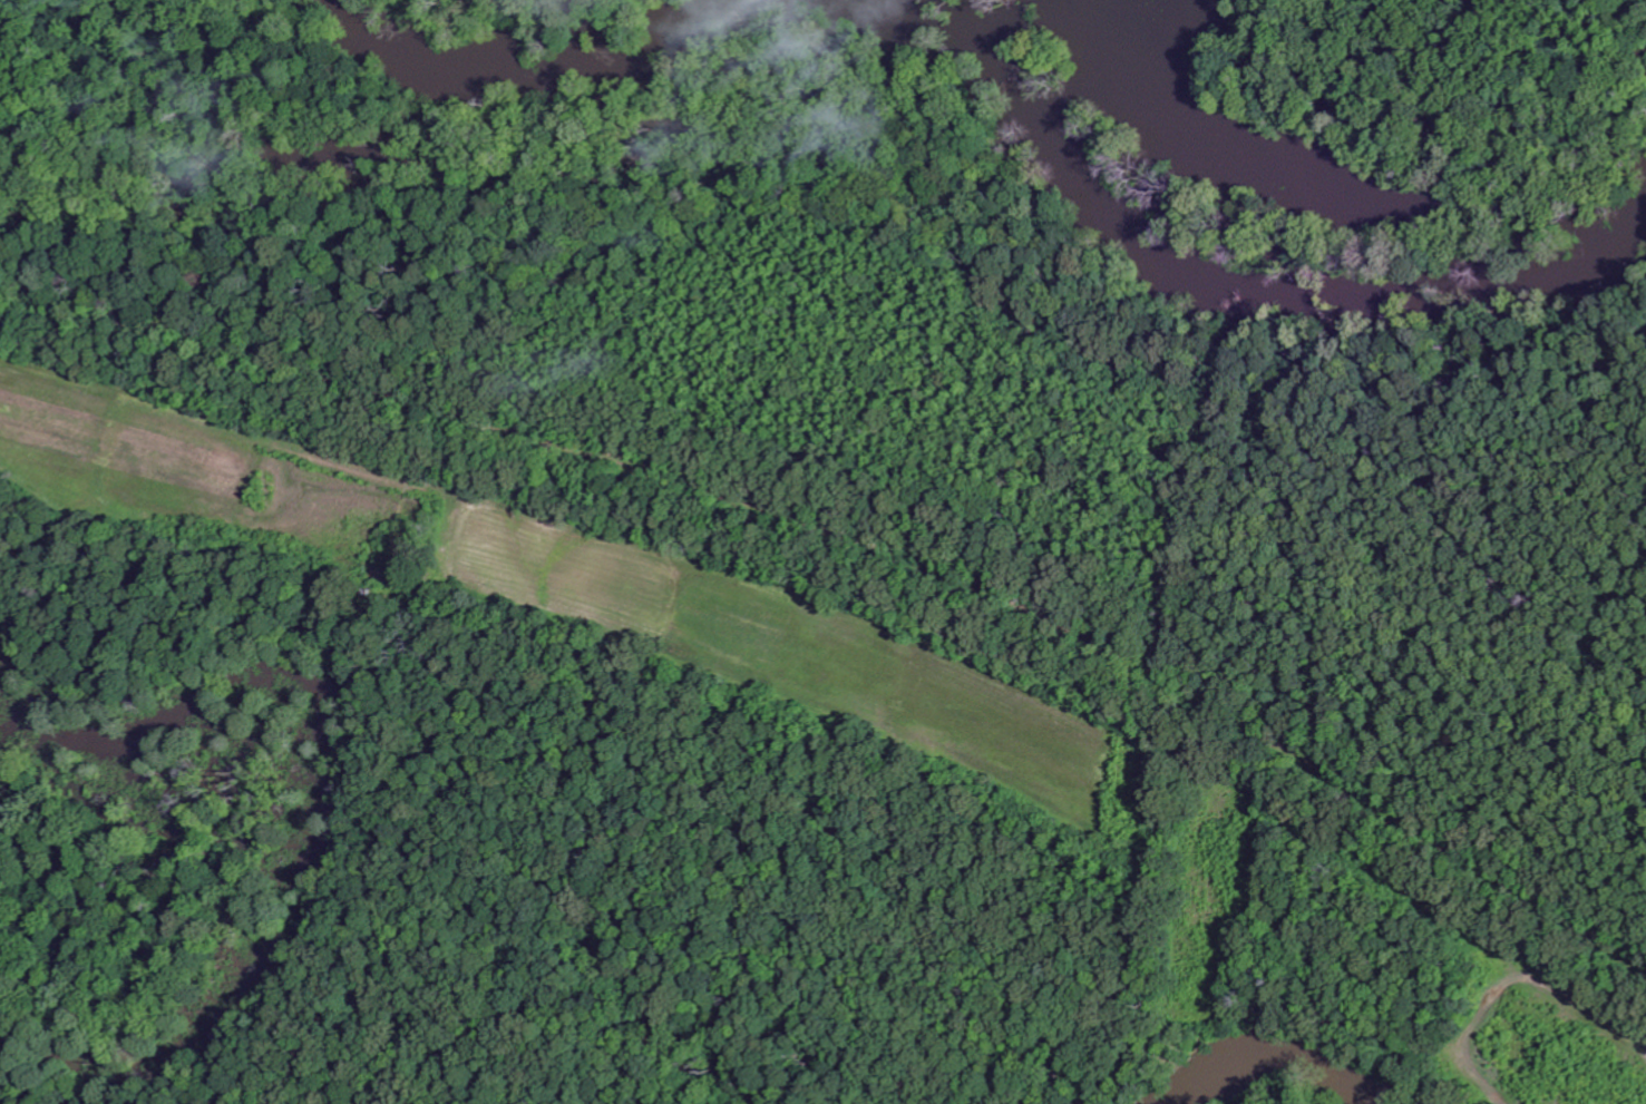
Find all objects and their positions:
river: (540, 75)
river: (1221, 283)
road: (855, 604)
river: (1278, 1056)

